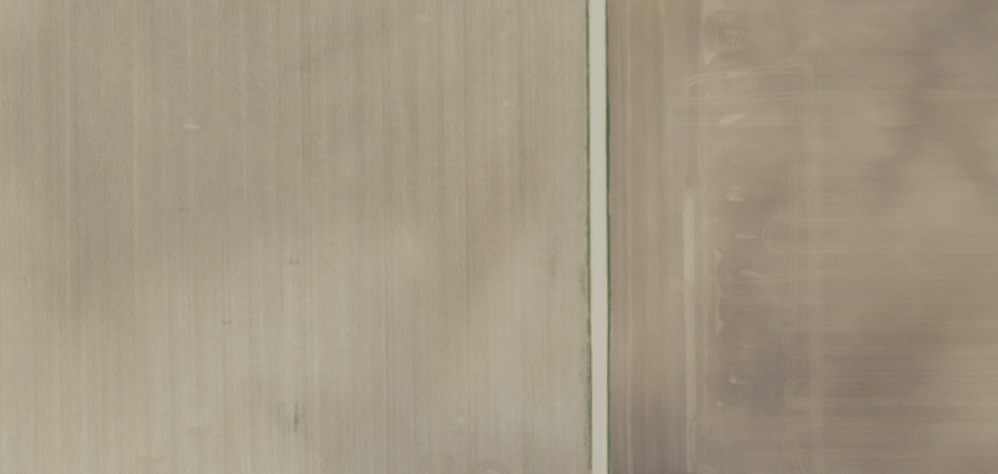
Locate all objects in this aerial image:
road: (592, 237)

